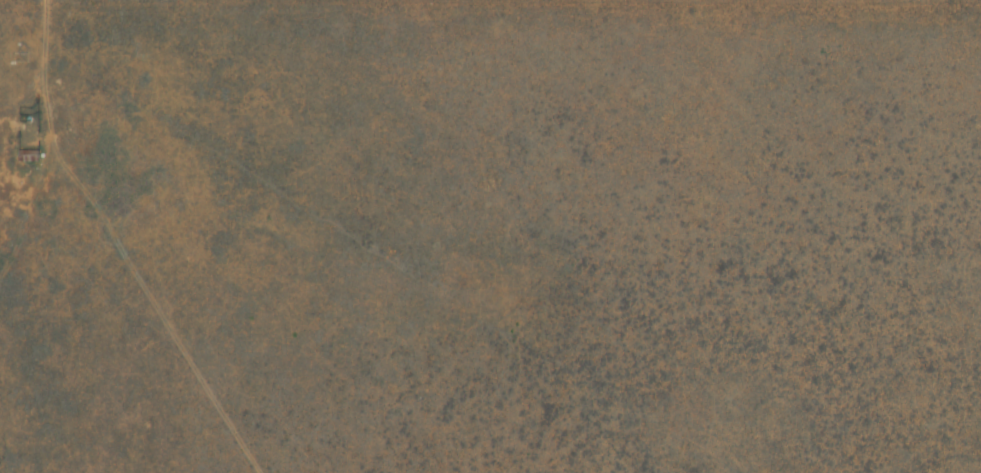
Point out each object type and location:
building: (27, 155)

